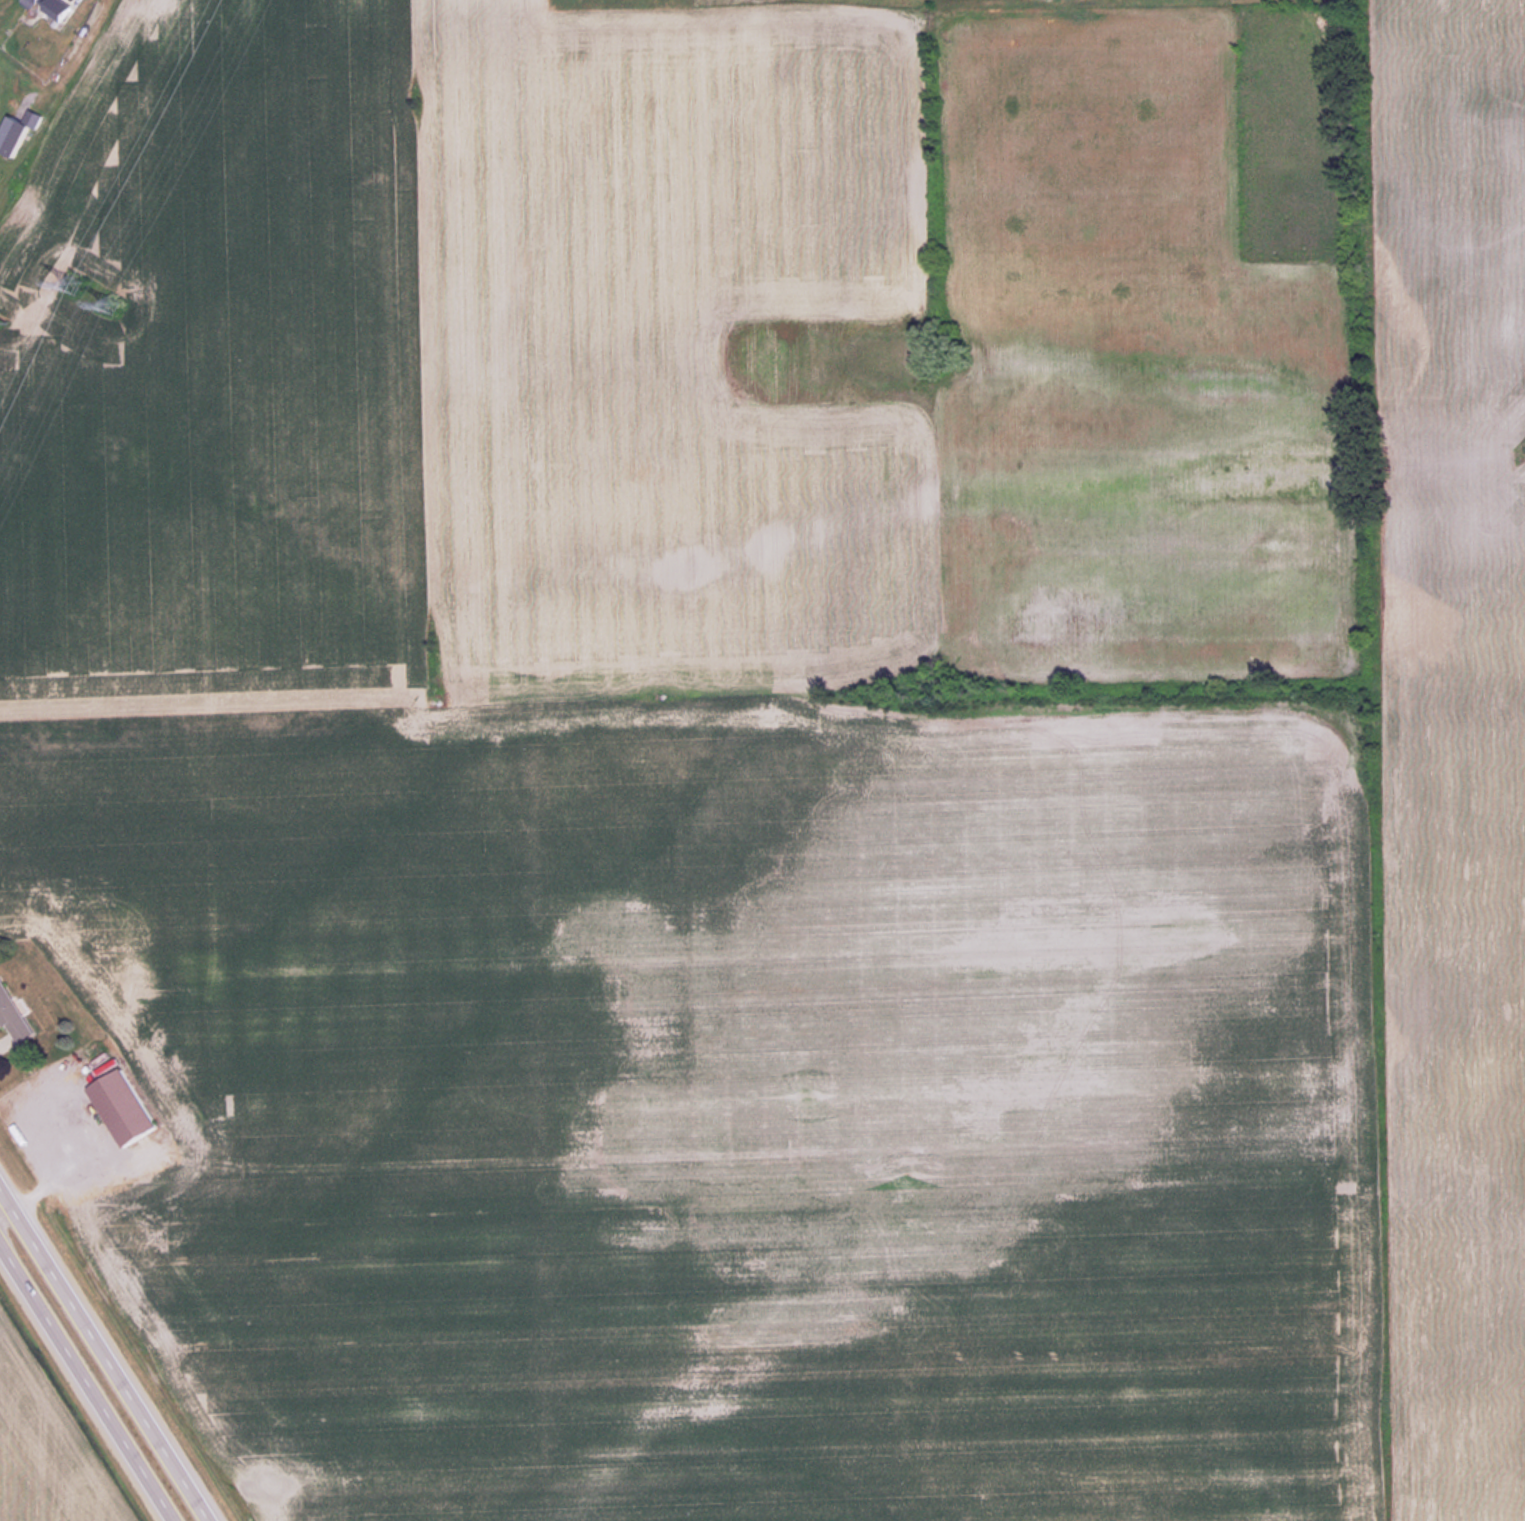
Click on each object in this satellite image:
building: (49, 7)
building: (15, 131)
power tower: (75, 283)
power tower: (113, 303)
power tower: (5, 320)
building: (12, 1018)
building: (121, 1109)
road: (55, 1169)
road: (108, 1348)
road: (86, 1382)

